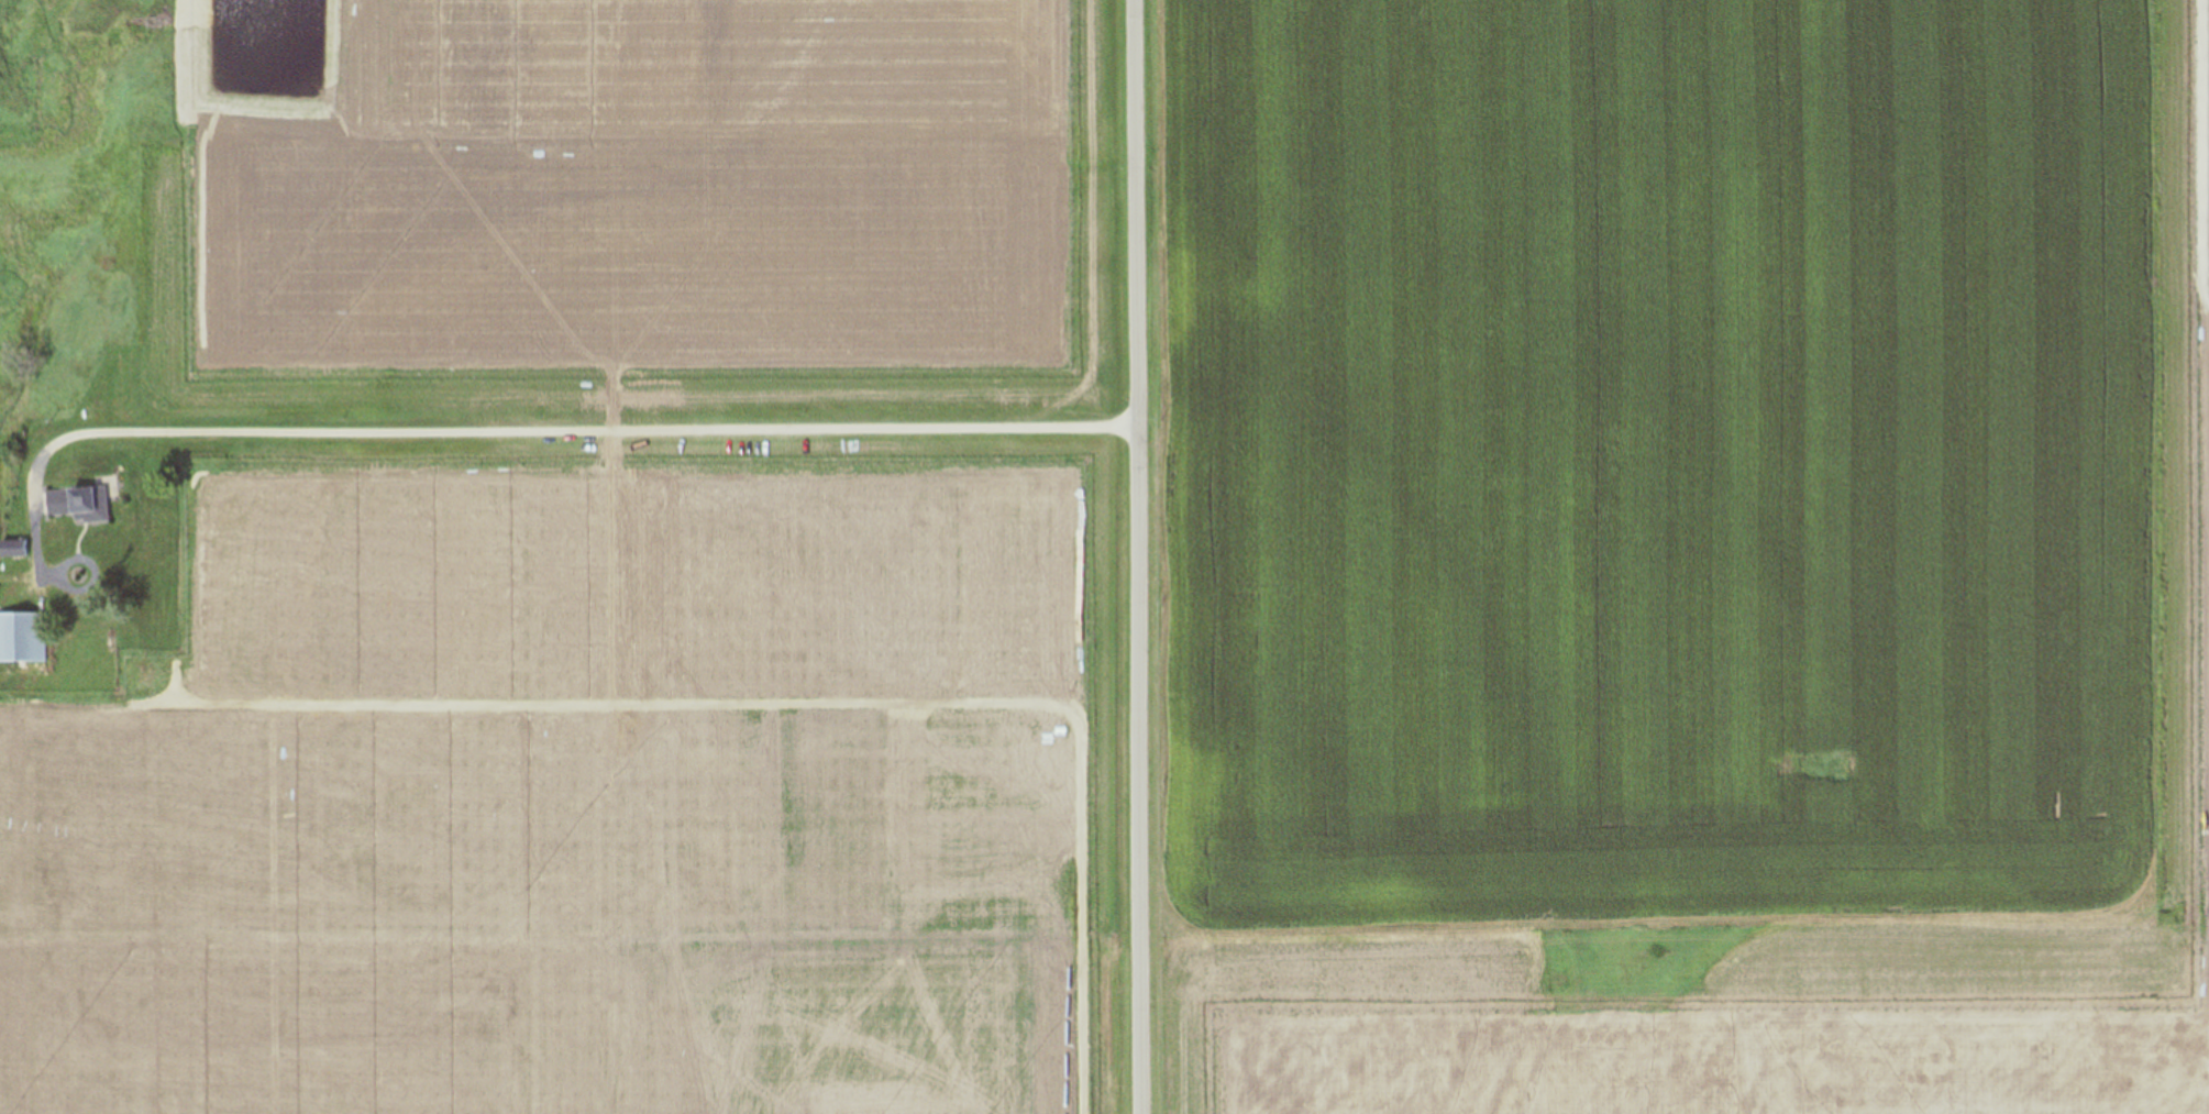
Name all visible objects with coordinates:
road: (459, 431)
building: (80, 504)
building: (14, 549)
road: (1141, 556)
building: (22, 638)

